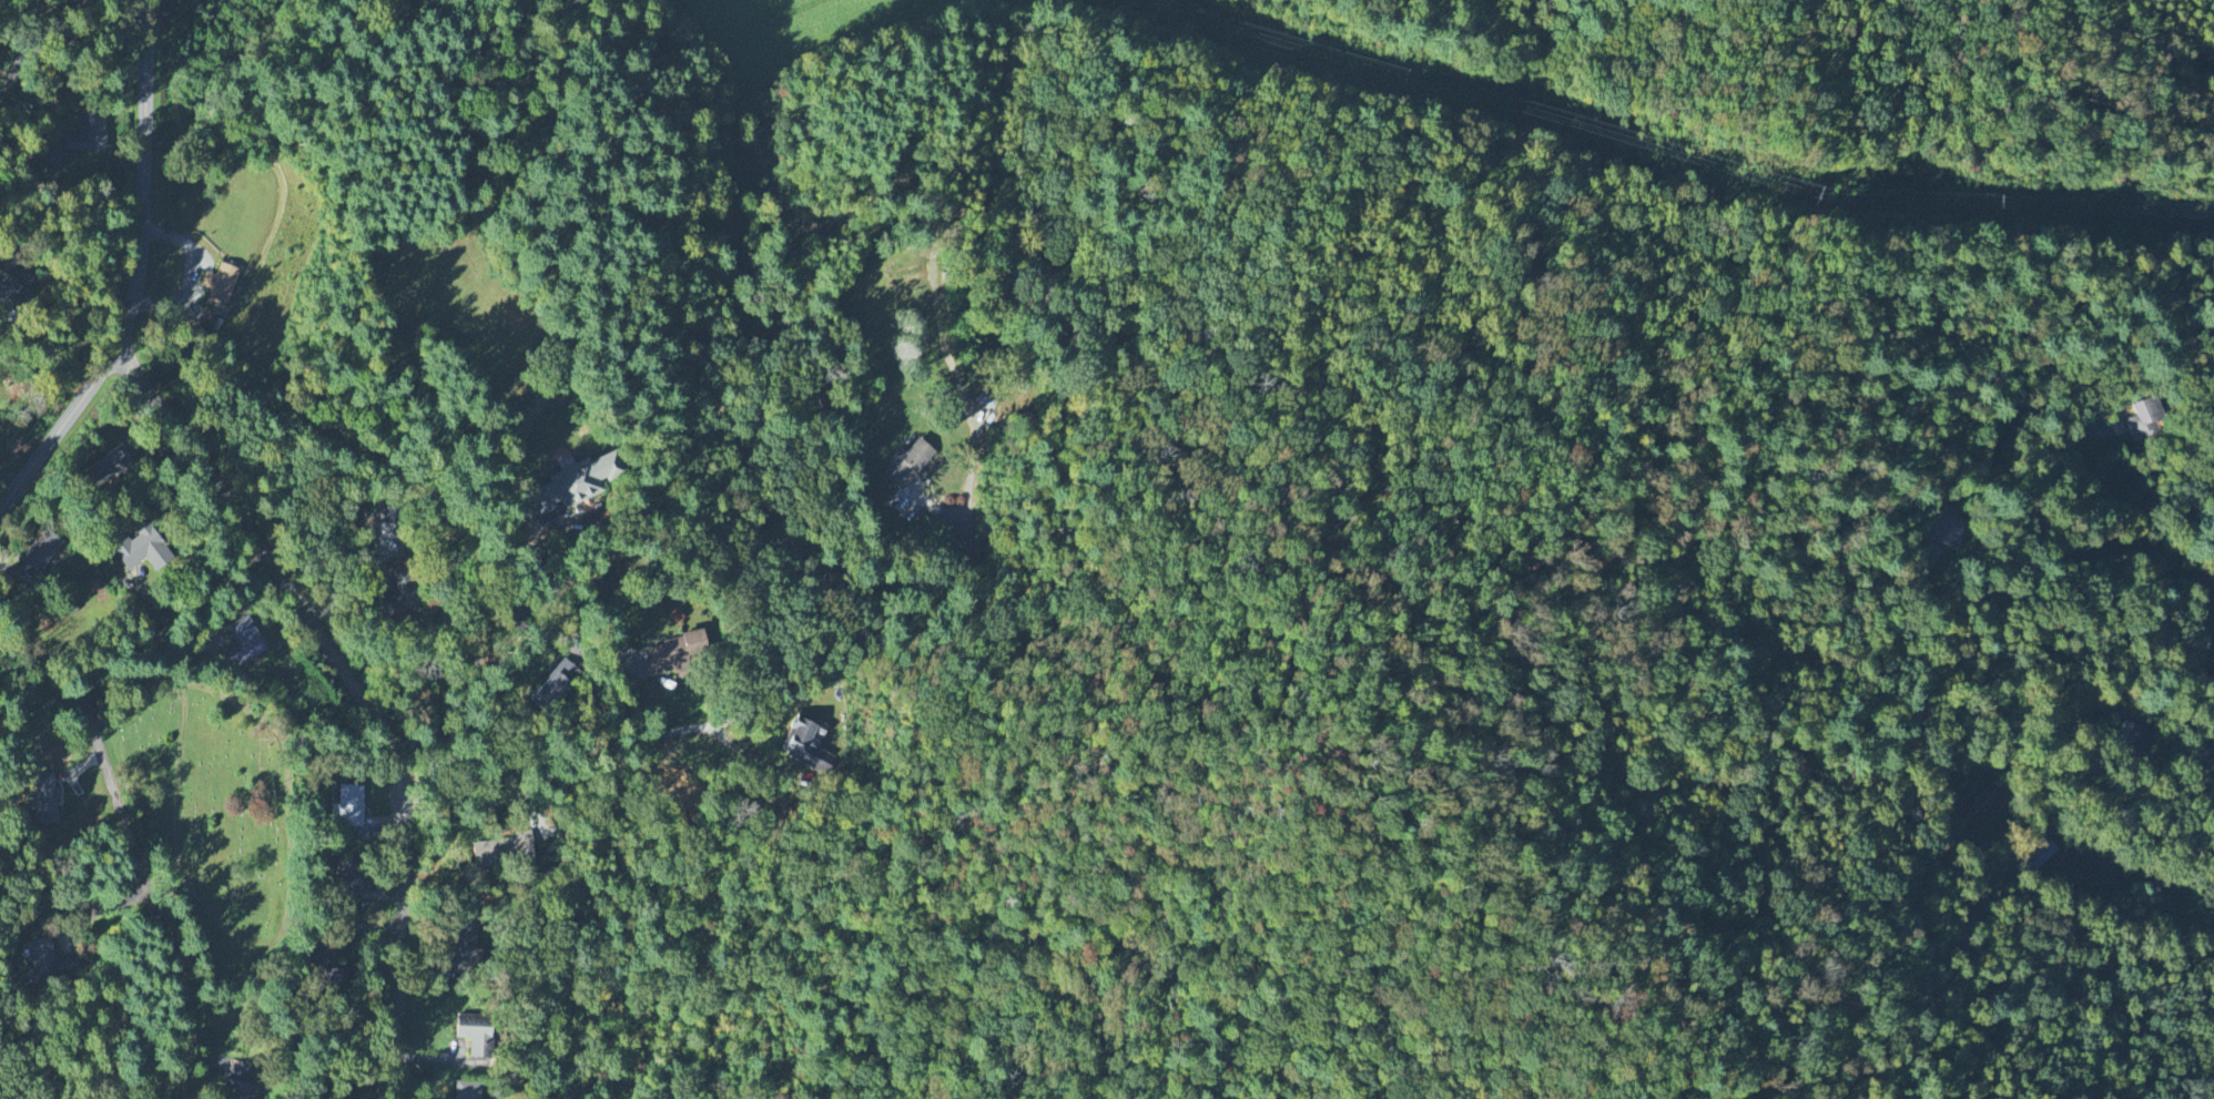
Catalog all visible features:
road: (28, 69)
building: (88, 135)
building: (52, 161)
power tower: (1821, 192)
road: (2, 258)
road: (192, 274)
road: (139, 276)
building: (221, 287)
building: (16, 291)
building: (2143, 419)
building: (908, 465)
building: (109, 468)
road: (11, 477)
building: (576, 486)
road: (2013, 500)
road: (2122, 505)
building: (141, 548)
building: (42, 553)
road: (359, 589)
road: (2198, 597)
building: (400, 599)
road: (506, 625)
building: (243, 643)
building: (677, 654)
building: (558, 684)
road: (357, 694)
road: (738, 715)
building: (806, 745)
road: (108, 781)
building: (43, 801)
building: (349, 808)
building: (1971, 808)
park: (217, 818)
building: (504, 853)
road: (68, 904)
building: (465, 952)
building: (50, 964)
building: (475, 1035)
building: (240, 1091)
building: (468, 1091)

